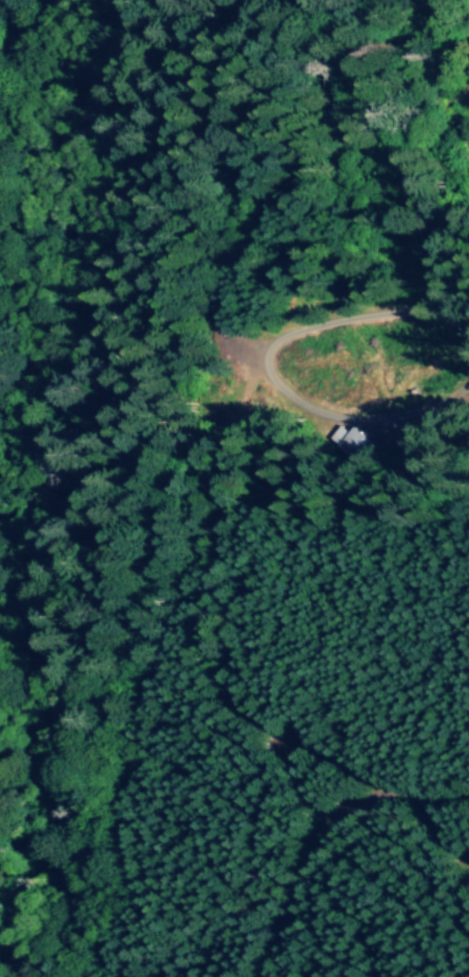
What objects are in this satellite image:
building: (354, 439)

